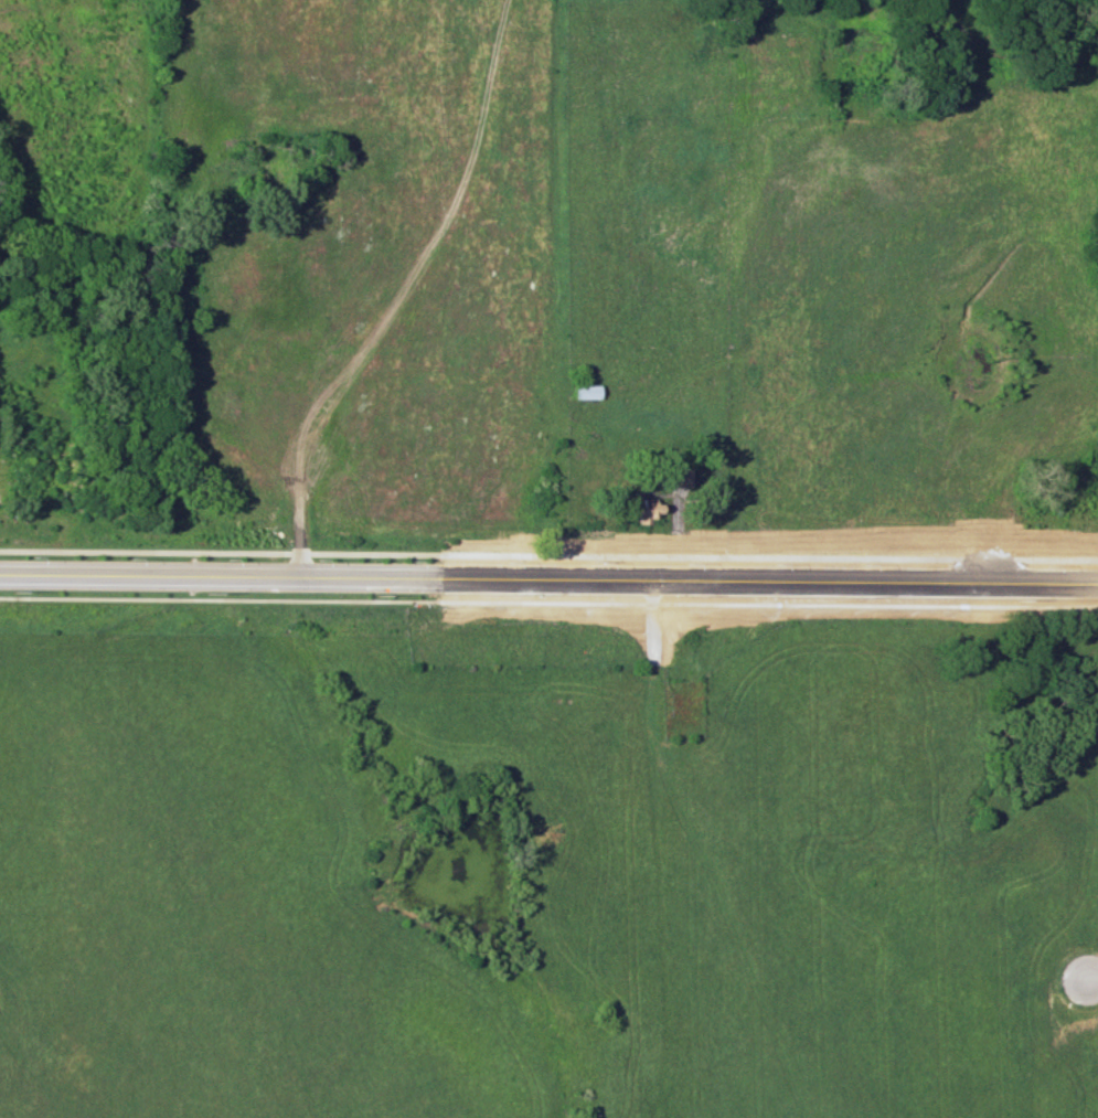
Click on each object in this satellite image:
road: (841, 162)
road: (891, 194)
building: (586, 391)
road: (771, 409)
building: (676, 476)
road: (1002, 482)
road: (980, 483)
road: (548, 576)
road: (1092, 980)

